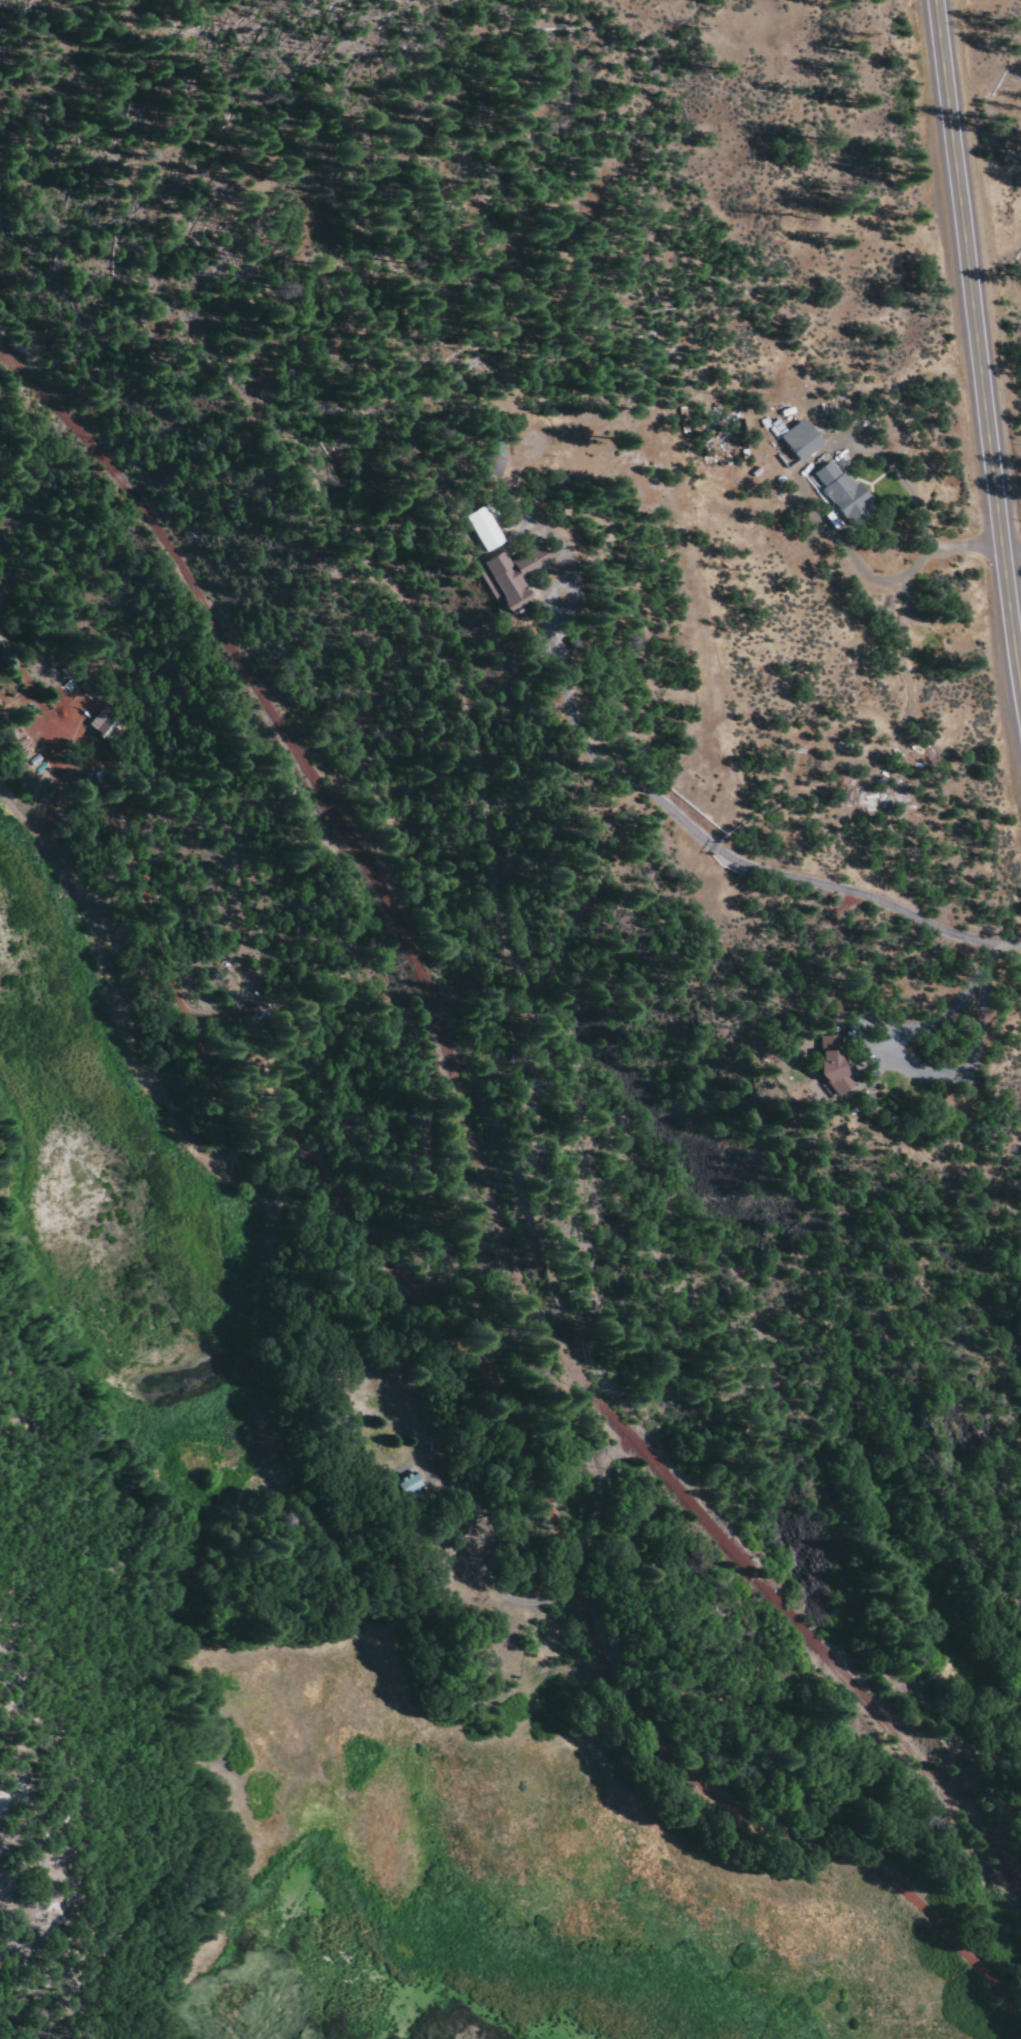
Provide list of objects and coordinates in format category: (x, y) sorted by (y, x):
road: (978, 336)
building: (797, 437)
building: (498, 457)
building: (844, 494)
building: (487, 528)
building: (513, 577)
building: (3, 594)
building: (103, 723)
building: (834, 1063)
building: (413, 1485)
park: (681, 1663)

